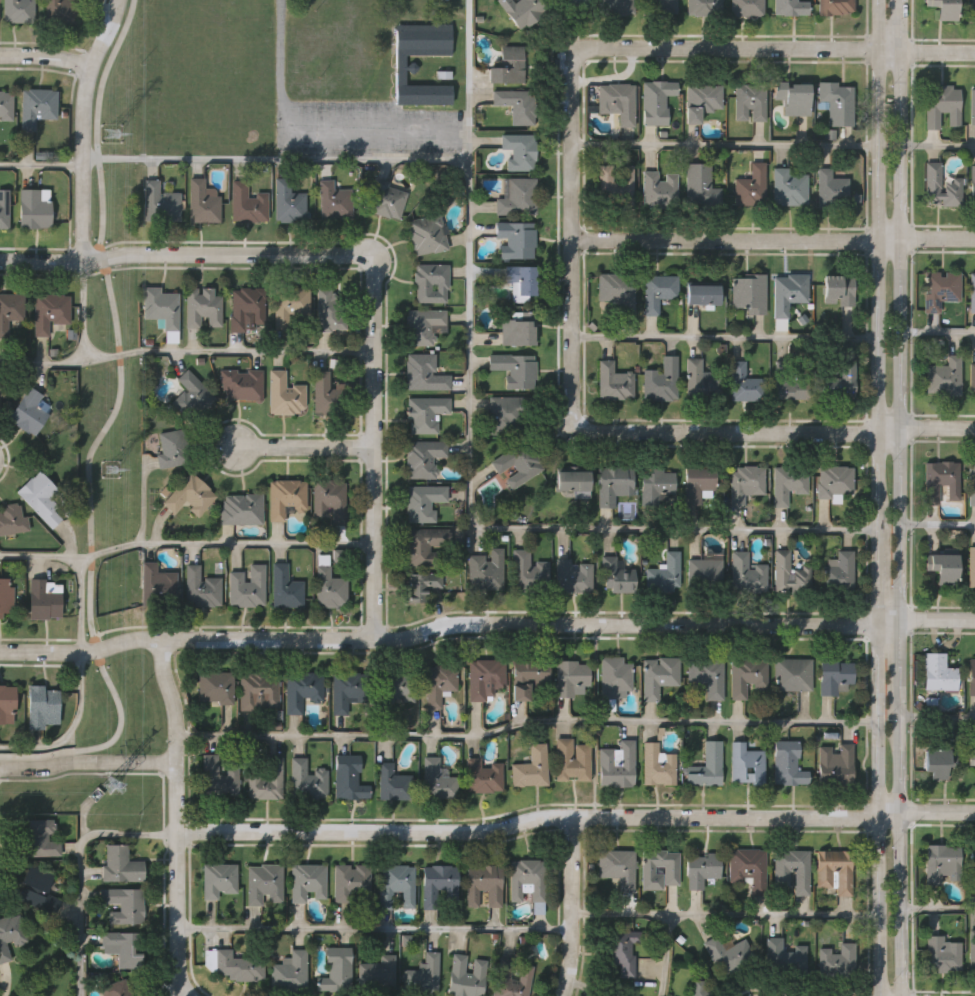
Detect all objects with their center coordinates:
building: (573, 2)
building: (832, 6)
building: (615, 7)
building: (660, 7)
building: (702, 7)
building: (745, 7)
building: (789, 7)
road: (103, 8)
building: (943, 8)
building: (973, 9)
building: (18, 10)
building: (522, 10)
building: (59, 11)
road: (780, 49)
road: (45, 54)
building: (507, 66)
building: (400, 70)
building: (616, 101)
building: (654, 101)
building: (700, 101)
building: (749, 101)
building: (796, 101)
building: (836, 104)
building: (941, 104)
building: (516, 105)
building: (972, 105)
building: (5, 106)
building: (35, 107)
road: (83, 126)
road: (316, 128)
power tower: (114, 133)
road: (724, 146)
road: (936, 148)
building: (519, 151)
road: (276, 159)
road: (41, 166)
building: (612, 184)
building: (972, 184)
building: (941, 185)
building: (700, 186)
building: (750, 186)
building: (786, 186)
building: (657, 189)
building: (828, 189)
building: (516, 198)
building: (384, 199)
building: (201, 201)
building: (287, 201)
building: (333, 201)
building: (159, 203)
building: (246, 203)
building: (34, 207)
building: (4, 209)
road: (572, 224)
building: (426, 234)
building: (515, 238)
road: (773, 238)
road: (180, 253)
building: (431, 280)
building: (521, 280)
building: (838, 287)
building: (940, 288)
building: (618, 289)
building: (659, 289)
building: (788, 290)
building: (750, 291)
building: (972, 291)
building: (702, 293)
building: (290, 303)
building: (161, 305)
building: (203, 305)
building: (247, 307)
building: (329, 309)
building: (10, 310)
building: (51, 310)
road: (84, 311)
building: (423, 324)
building: (518, 328)
road: (936, 334)
road: (725, 338)
road: (185, 352)
building: (514, 368)
building: (423, 374)
building: (944, 376)
building: (972, 378)
building: (662, 379)
building: (614, 380)
building: (702, 380)
building: (745, 382)
building: (789, 382)
building: (242, 383)
building: (840, 383)
building: (2, 387)
building: (285, 393)
building: (328, 394)
building: (192, 396)
building: (28, 410)
building: (425, 412)
building: (508, 412)
road: (767, 428)
road: (104, 430)
road: (373, 445)
road: (304, 446)
building: (172, 447)
building: (424, 457)
building: (519, 462)
road: (471, 463)
power tower: (112, 469)
building: (941, 479)
building: (574, 481)
building: (699, 481)
building: (788, 481)
building: (834, 481)
building: (971, 481)
building: (746, 482)
building: (614, 483)
building: (656, 484)
building: (190, 494)
building: (40, 496)
building: (285, 497)
building: (330, 498)
road: (877, 498)
road: (897, 498)
building: (423, 500)
building: (242, 508)
building: (12, 519)
road: (936, 524)
road: (226, 544)
building: (425, 545)
road: (82, 563)
building: (942, 566)
building: (971, 566)
building: (486, 570)
building: (840, 570)
building: (529, 571)
building: (790, 572)
building: (665, 573)
building: (705, 573)
building: (748, 573)
building: (574, 575)
building: (617, 575)
building: (158, 584)
building: (421, 584)
building: (248, 585)
building: (202, 586)
building: (285, 586)
building: (330, 587)
building: (5, 596)
building: (43, 598)
road: (485, 623)
building: (938, 672)
building: (793, 674)
building: (835, 674)
building: (660, 675)
building: (971, 675)
building: (614, 676)
building: (747, 676)
building: (526, 677)
building: (570, 677)
building: (707, 677)
building: (485, 679)
building: (440, 684)
building: (216, 687)
building: (395, 689)
building: (302, 690)
building: (348, 690)
building: (257, 691)
building: (6, 701)
building: (42, 705)
road: (936, 719)
road: (525, 724)
road: (72, 728)
building: (971, 757)
building: (571, 760)
road: (87, 761)
building: (937, 762)
building: (836, 763)
building: (616, 764)
building: (656, 764)
building: (745, 764)
building: (787, 764)
building: (708, 766)
building: (531, 767)
building: (484, 773)
building: (219, 776)
building: (350, 776)
building: (308, 779)
building: (438, 779)
building: (267, 781)
building: (394, 785)
power tower: (108, 787)
road: (575, 816)
road: (176, 817)
building: (41, 837)
building: (943, 863)
building: (972, 863)
building: (120, 864)
building: (618, 867)
building: (748, 867)
building: (671, 869)
building: (701, 869)
building: (835, 869)
road: (81, 871)
building: (780, 877)
building: (220, 879)
building: (525, 879)
building: (307, 880)
building: (351, 881)
building: (264, 882)
building: (439, 883)
building: (396, 884)
building: (483, 885)
building: (37, 886)
building: (122, 903)
road: (571, 906)
road: (937, 912)
road: (725, 915)
road: (374, 929)
building: (10, 935)
building: (122, 947)
building: (972, 949)
building: (622, 952)
building: (728, 953)
building: (942, 953)
road: (666, 956)
building: (785, 956)
building: (837, 961)
building: (241, 966)
building: (291, 971)
building: (337, 971)
building: (423, 973)
building: (377, 975)
building: (466, 976)
building: (511, 979)
building: (117, 988)
building: (700, 988)
building: (609, 993)

